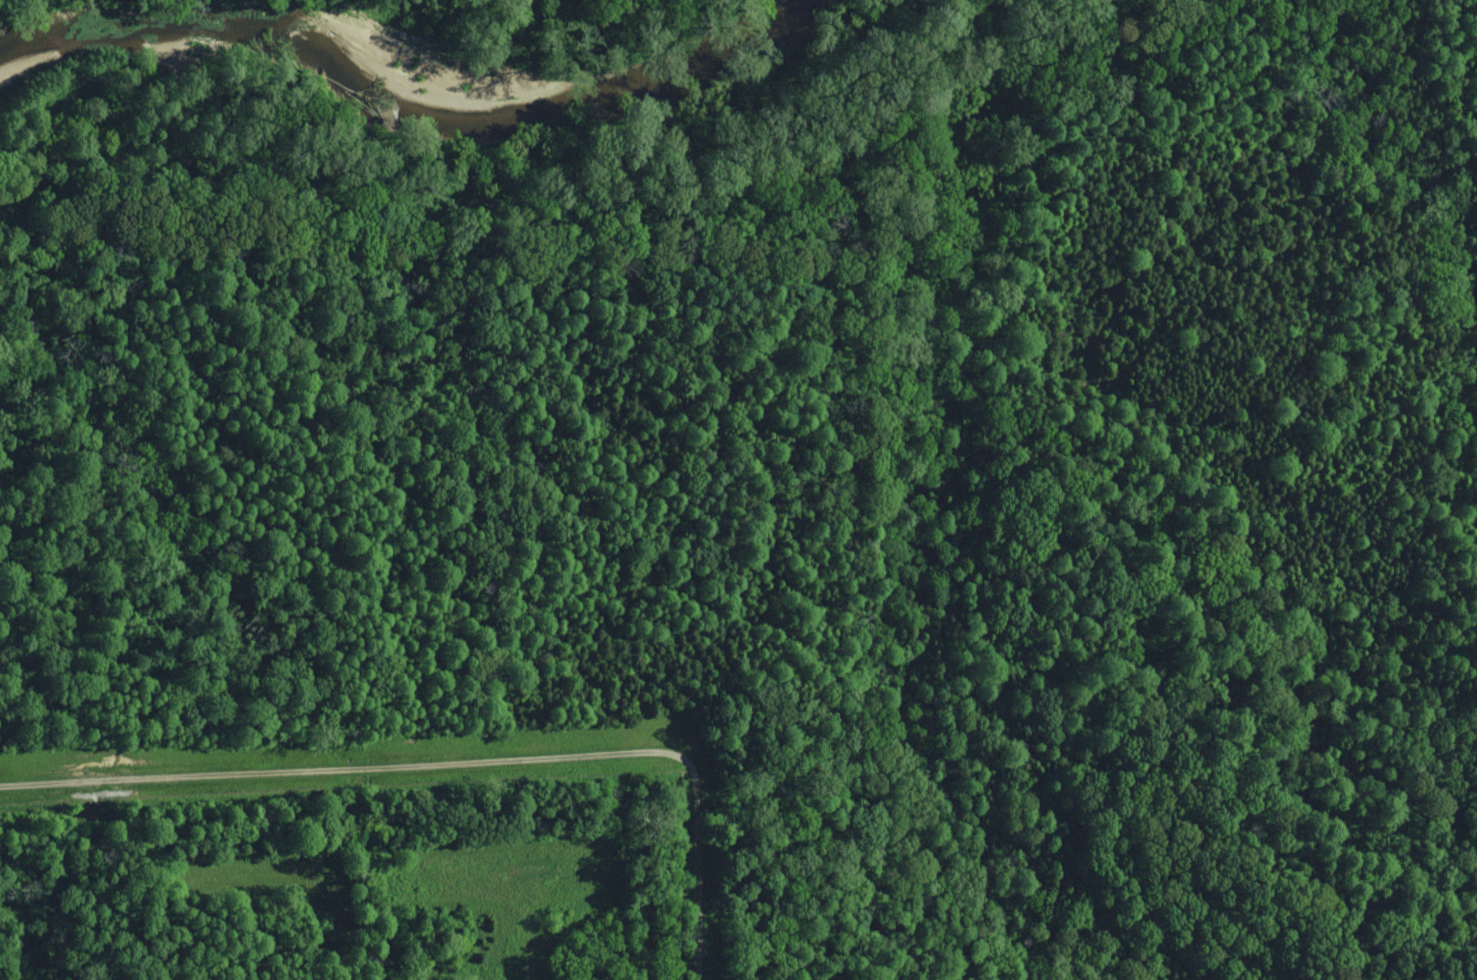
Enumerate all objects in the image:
road: (330, 771)
road: (696, 855)

